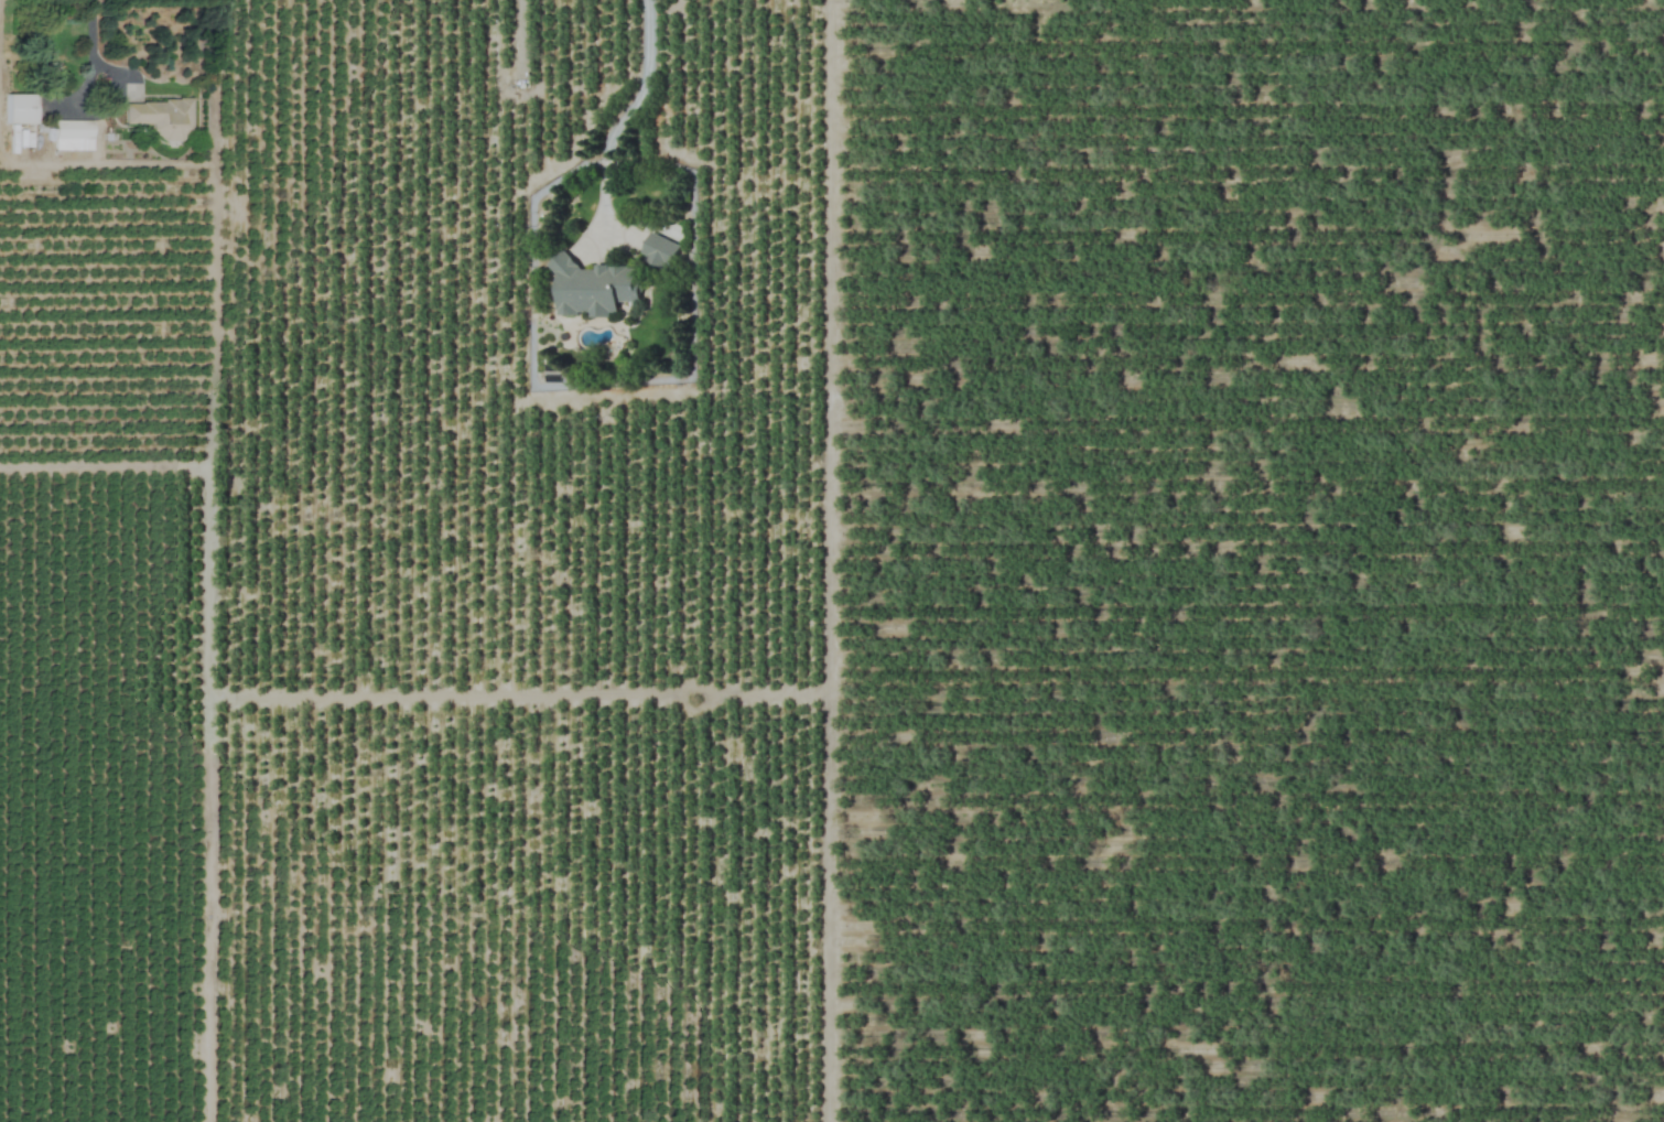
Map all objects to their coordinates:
road: (90, 44)
road: (642, 84)
building: (15, 108)
building: (158, 118)
building: (68, 136)
building: (592, 288)

